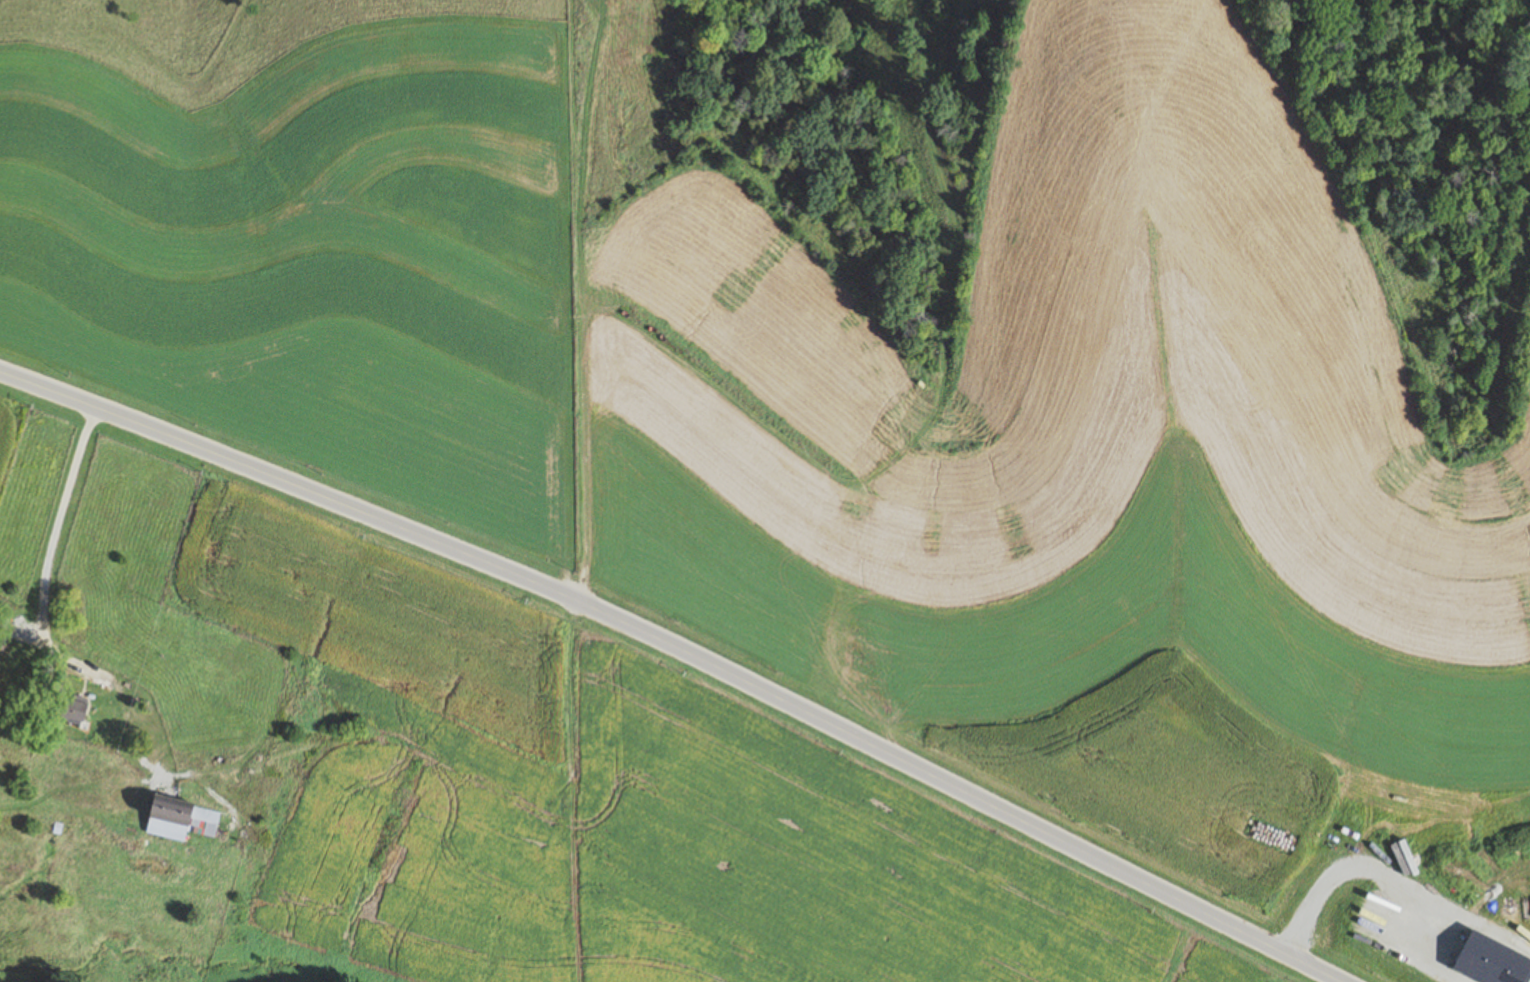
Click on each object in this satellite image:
road: (46, 541)
road: (683, 650)
building: (76, 708)
building: (183, 819)

